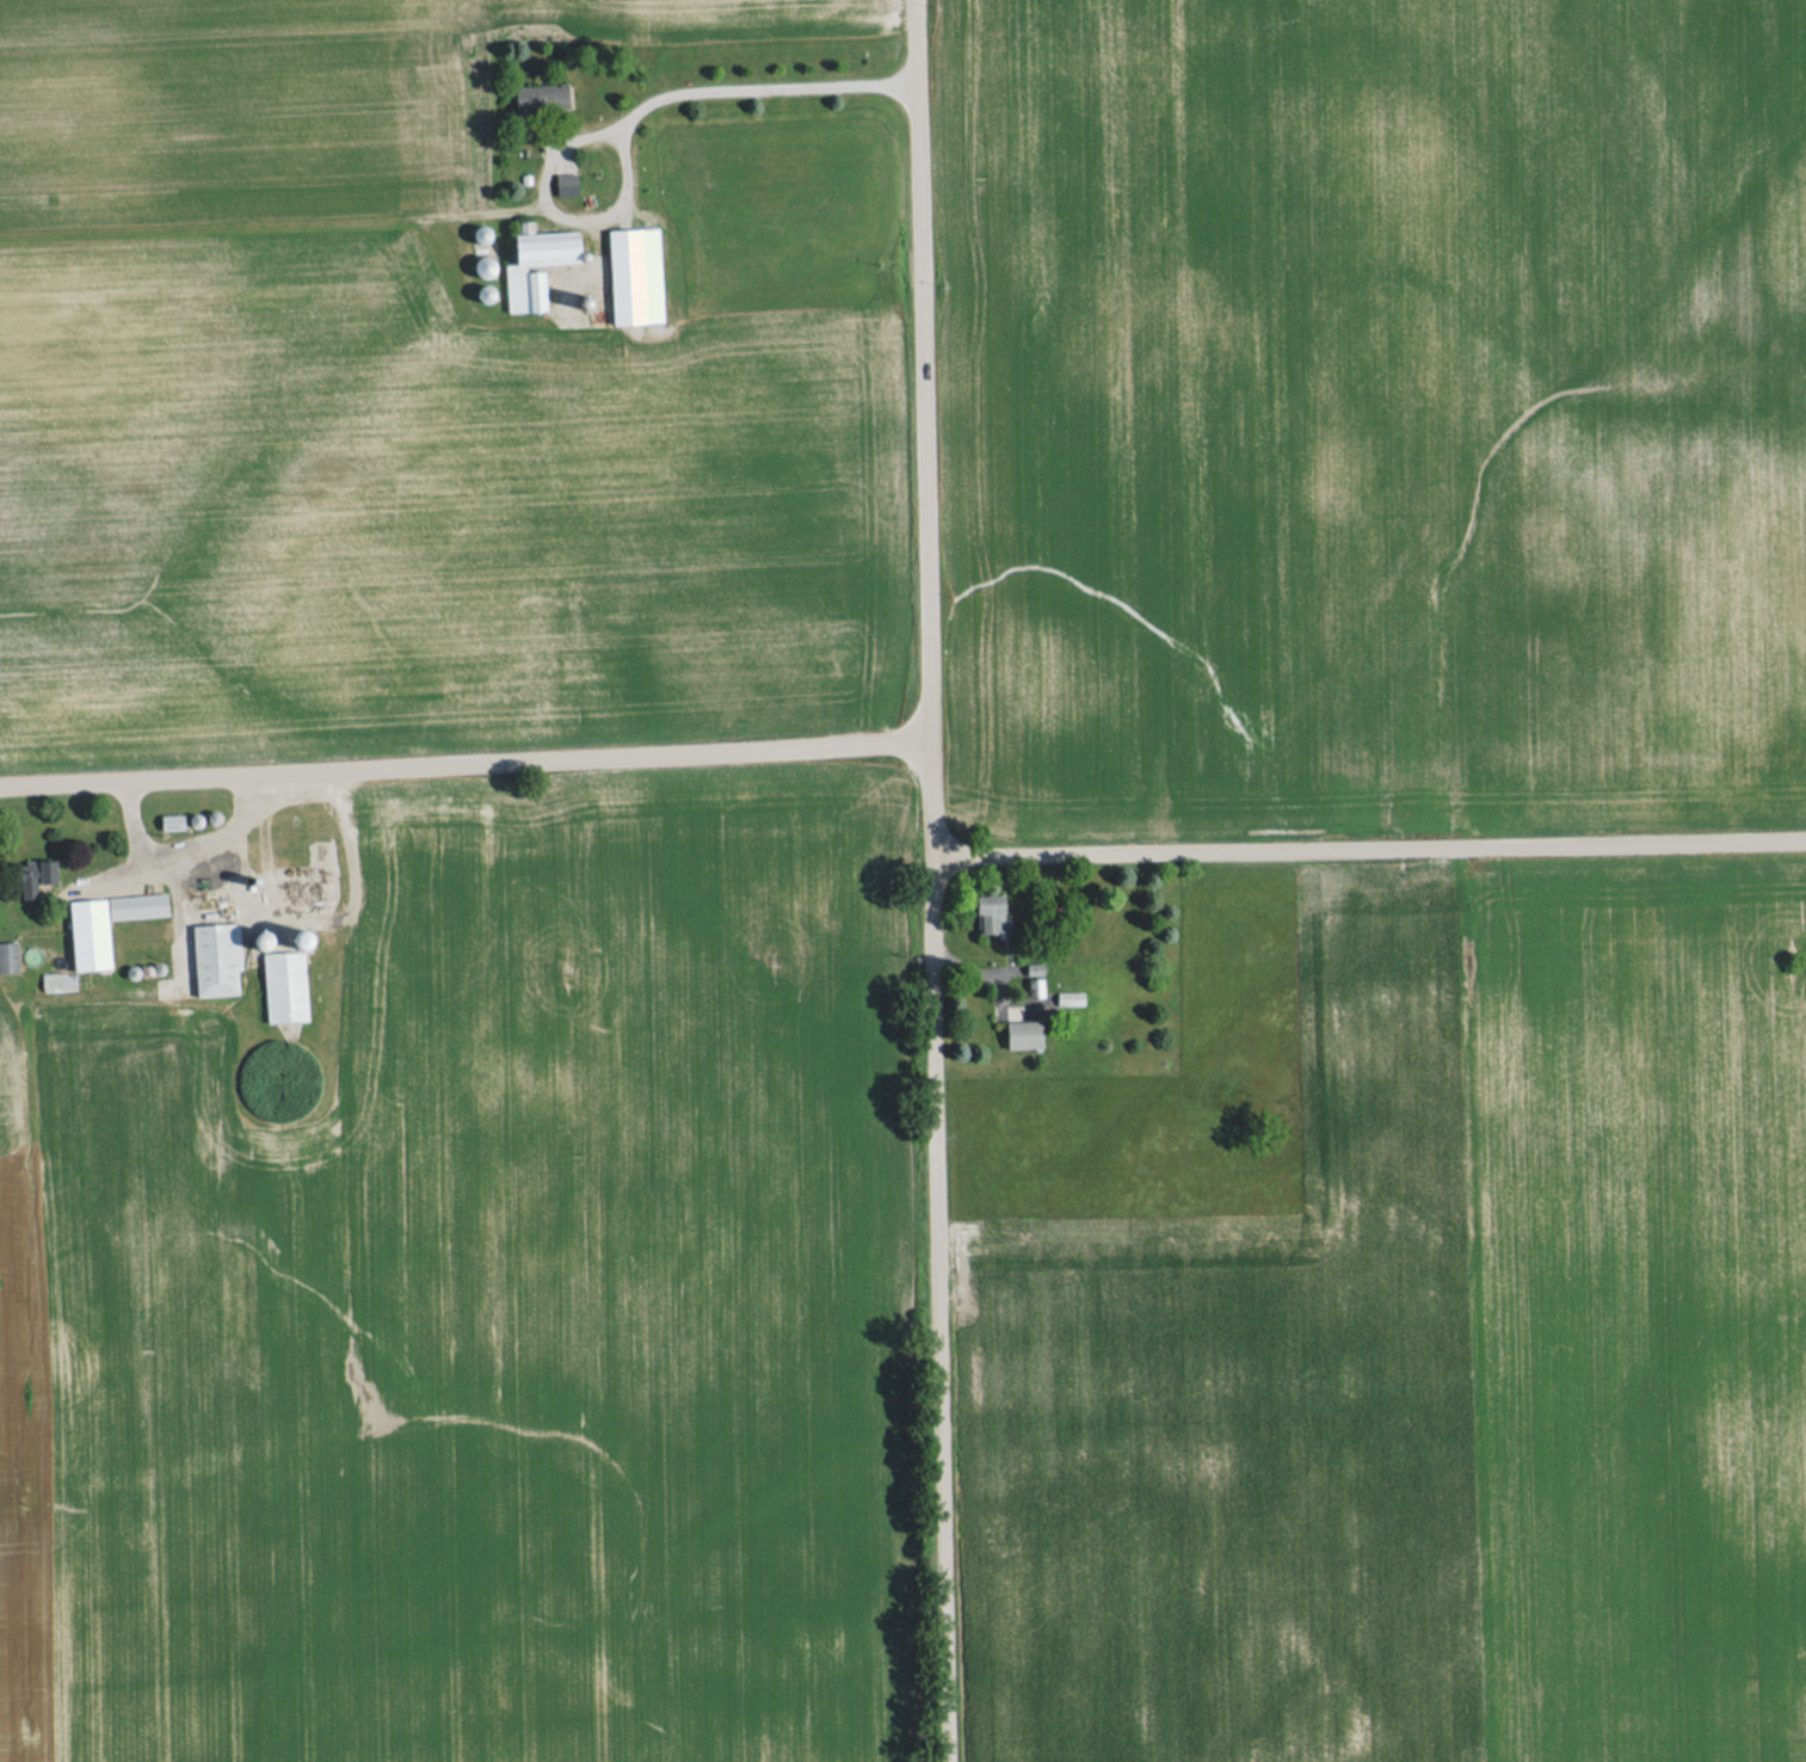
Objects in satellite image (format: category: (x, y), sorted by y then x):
building: (542, 97)
road: (630, 116)
building: (567, 184)
building: (635, 276)
building: (525, 290)
road: (923, 369)
road: (464, 763)
road: (930, 800)
building: (173, 821)
road: (134, 824)
road: (193, 849)
road: (1369, 849)
building: (36, 876)
building: (137, 905)
building: (991, 914)
road: (334, 917)
building: (91, 934)
building: (8, 956)
building: (217, 959)
building: (285, 986)
building: (1035, 986)
building: (1023, 1034)
road: (936, 1311)

